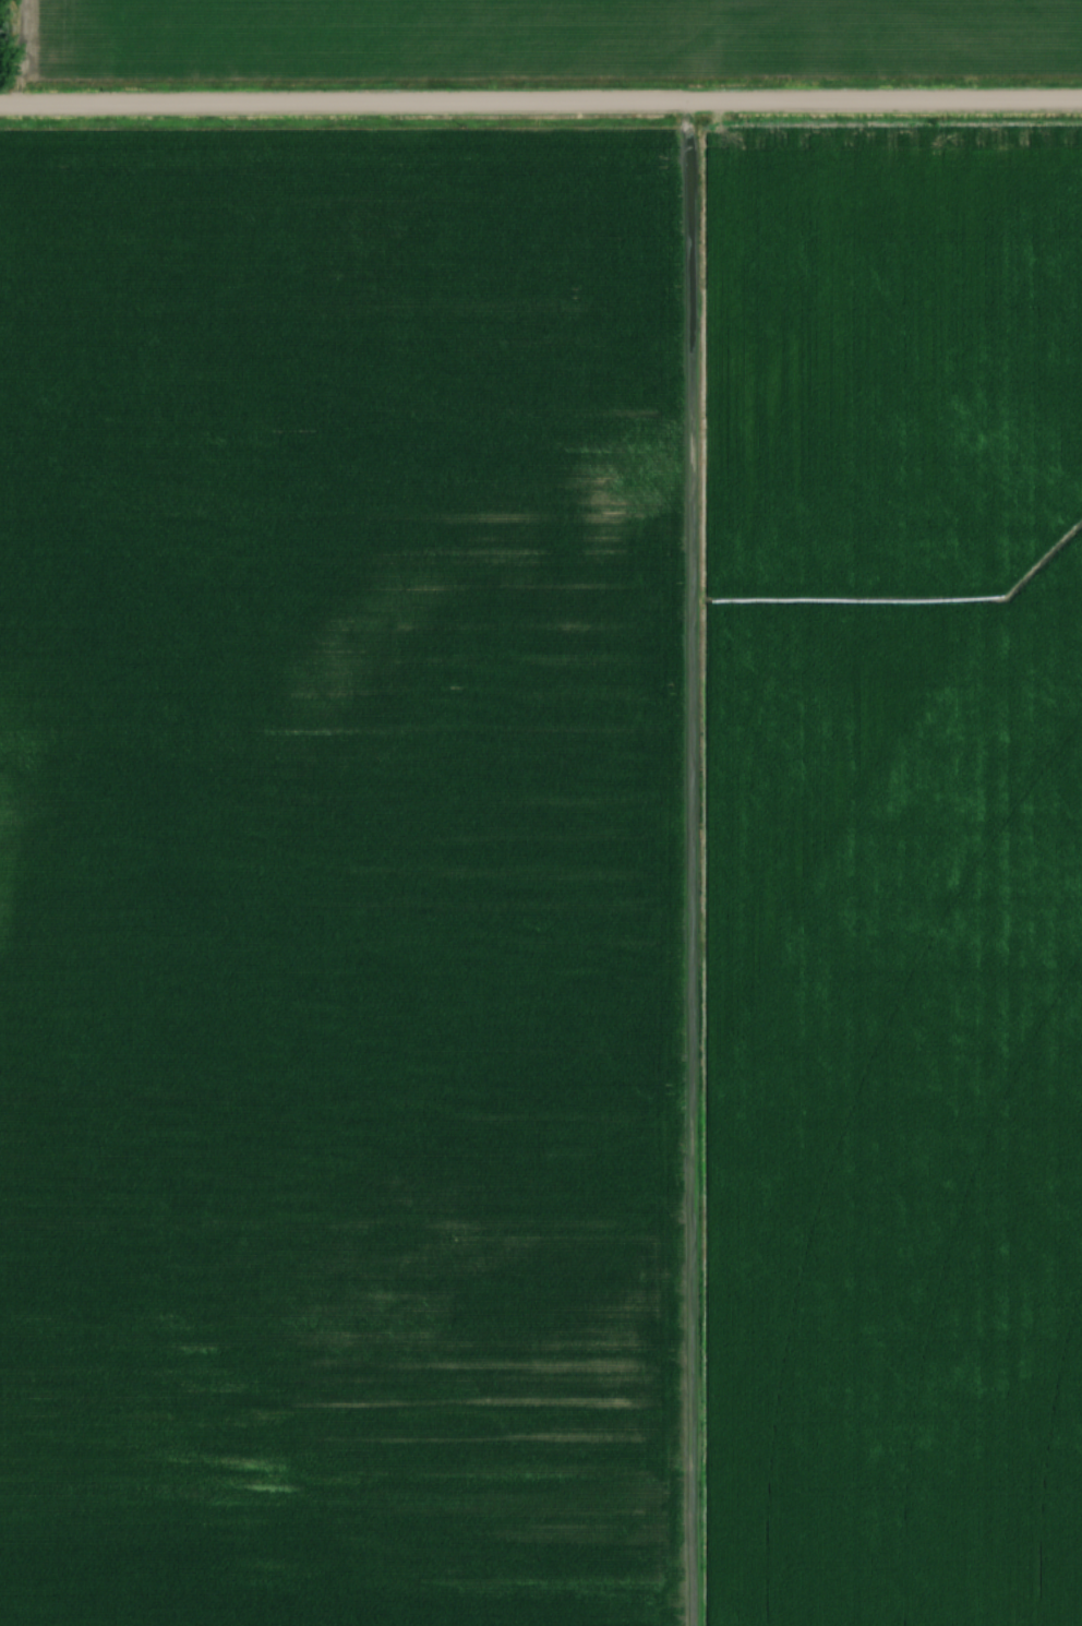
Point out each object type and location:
crop: (556, 35)
crop: (11, 38)
road: (541, 105)

